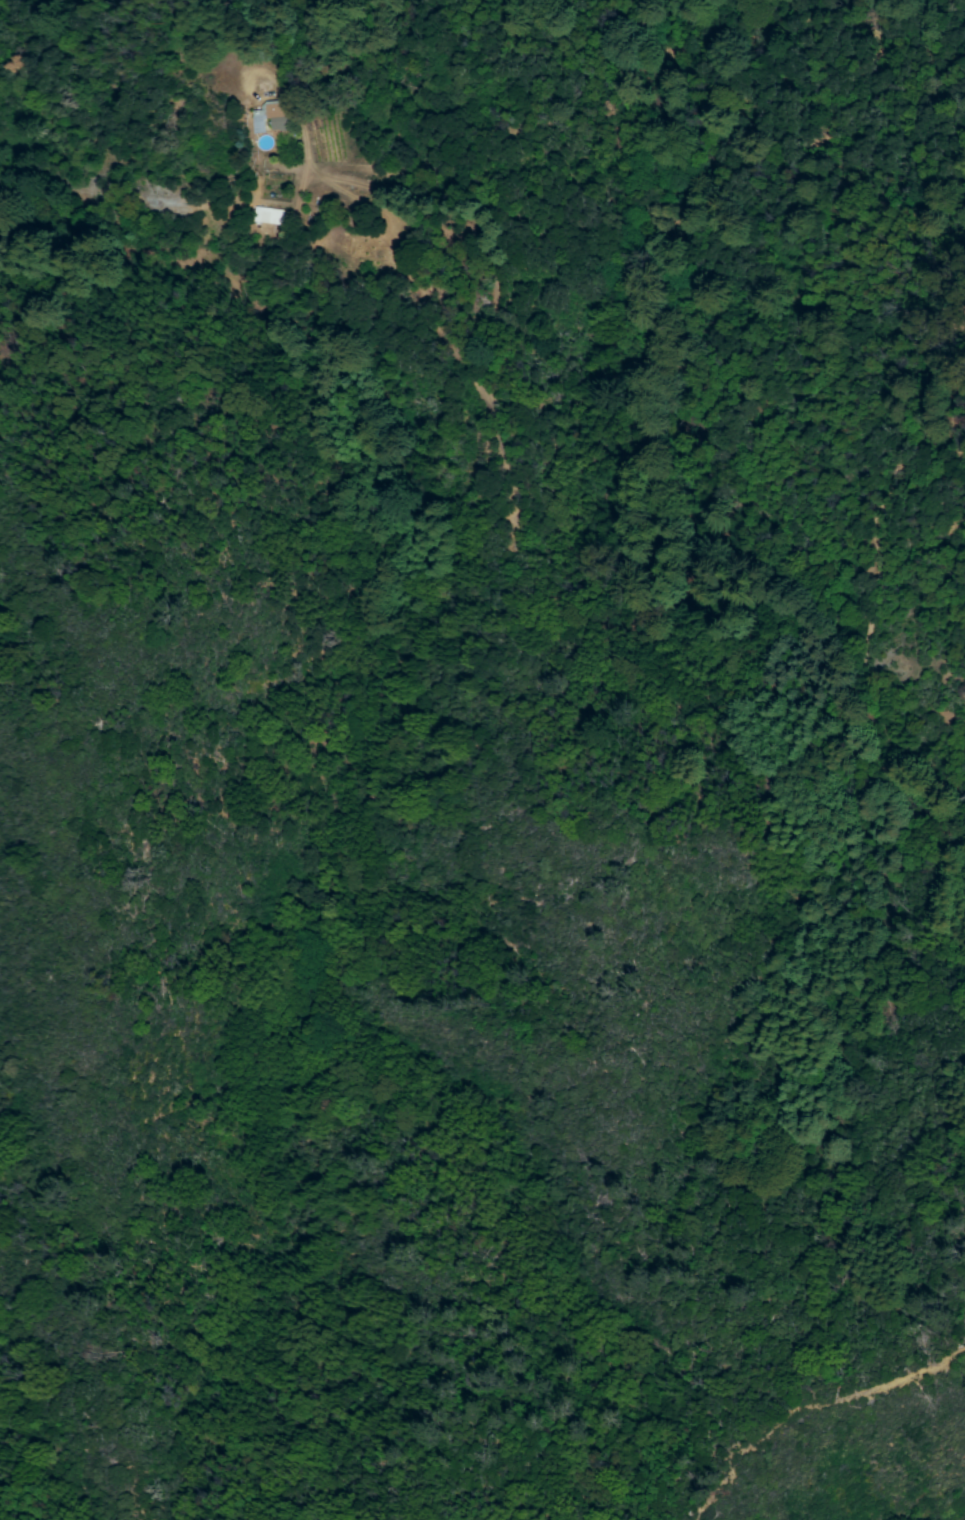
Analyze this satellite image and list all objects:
building: (272, 120)
building: (266, 214)
building: (276, 223)
road: (815, 1410)

